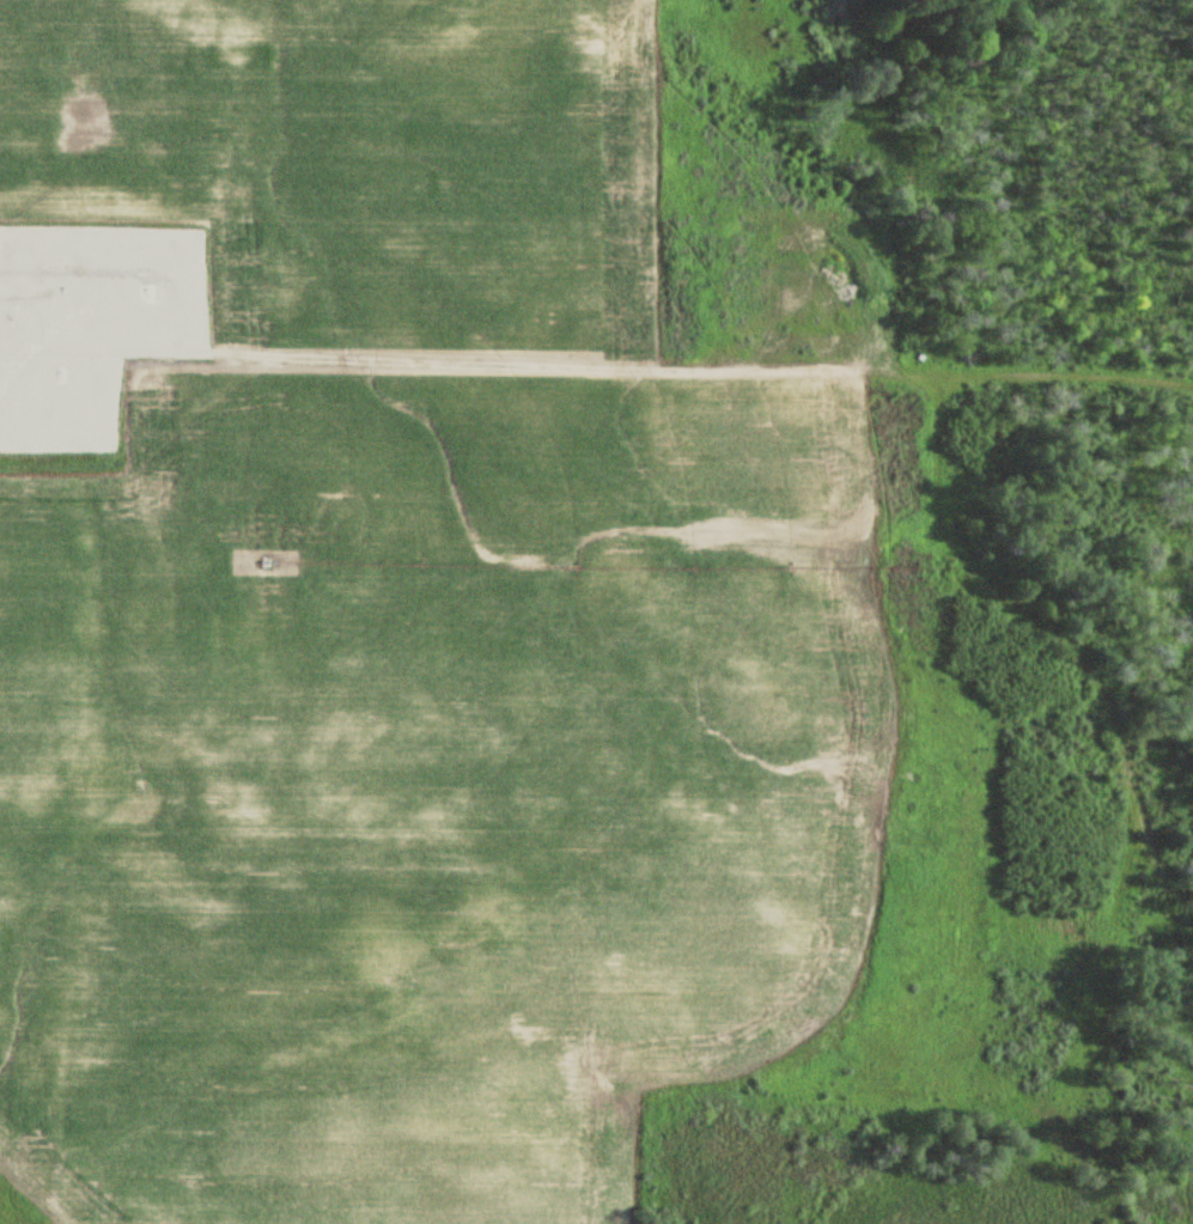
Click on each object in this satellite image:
road: (574, 360)
road: (852, 367)

